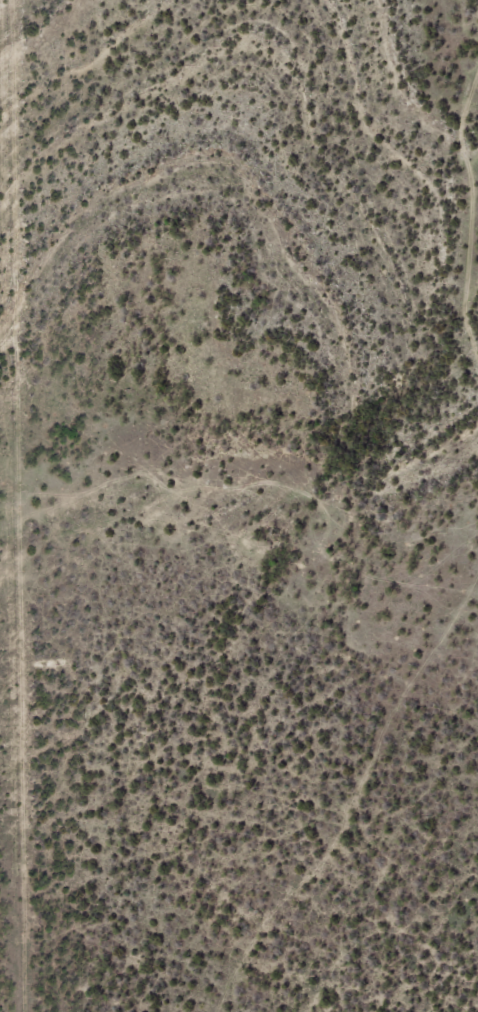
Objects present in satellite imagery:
road: (472, 186)
road: (341, 778)

